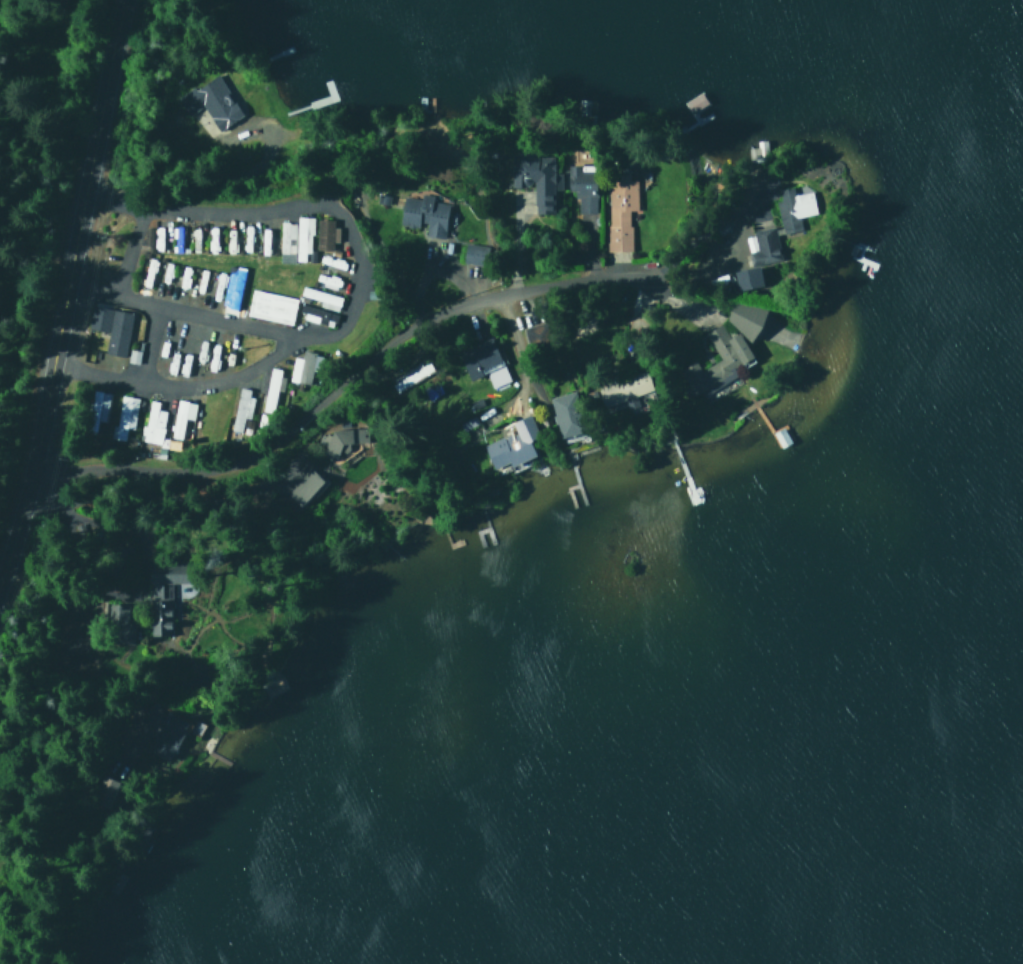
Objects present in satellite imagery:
building: (209, 103)
building: (755, 151)
building: (533, 177)
building: (581, 186)
building: (791, 208)
building: (619, 211)
building: (422, 214)
building: (324, 234)
building: (146, 236)
building: (301, 239)
building: (285, 241)
building: (761, 245)
building: (471, 253)
building: (746, 277)
building: (231, 288)
road: (355, 293)
building: (321, 298)
road: (66, 304)
building: (269, 306)
road: (187, 315)
building: (743, 317)
building: (109, 327)
road: (523, 338)
building: (477, 357)
building: (715, 362)
road: (373, 363)
building: (302, 367)
building: (409, 375)
building: (495, 376)
building: (269, 389)
building: (623, 391)
building: (240, 407)
building: (95, 408)
building: (564, 413)
building: (179, 416)
building: (122, 417)
building: (151, 425)
building: (342, 439)
building: (511, 444)
building: (302, 486)
building: (160, 598)
building: (117, 625)
building: (161, 730)
building: (103, 792)

